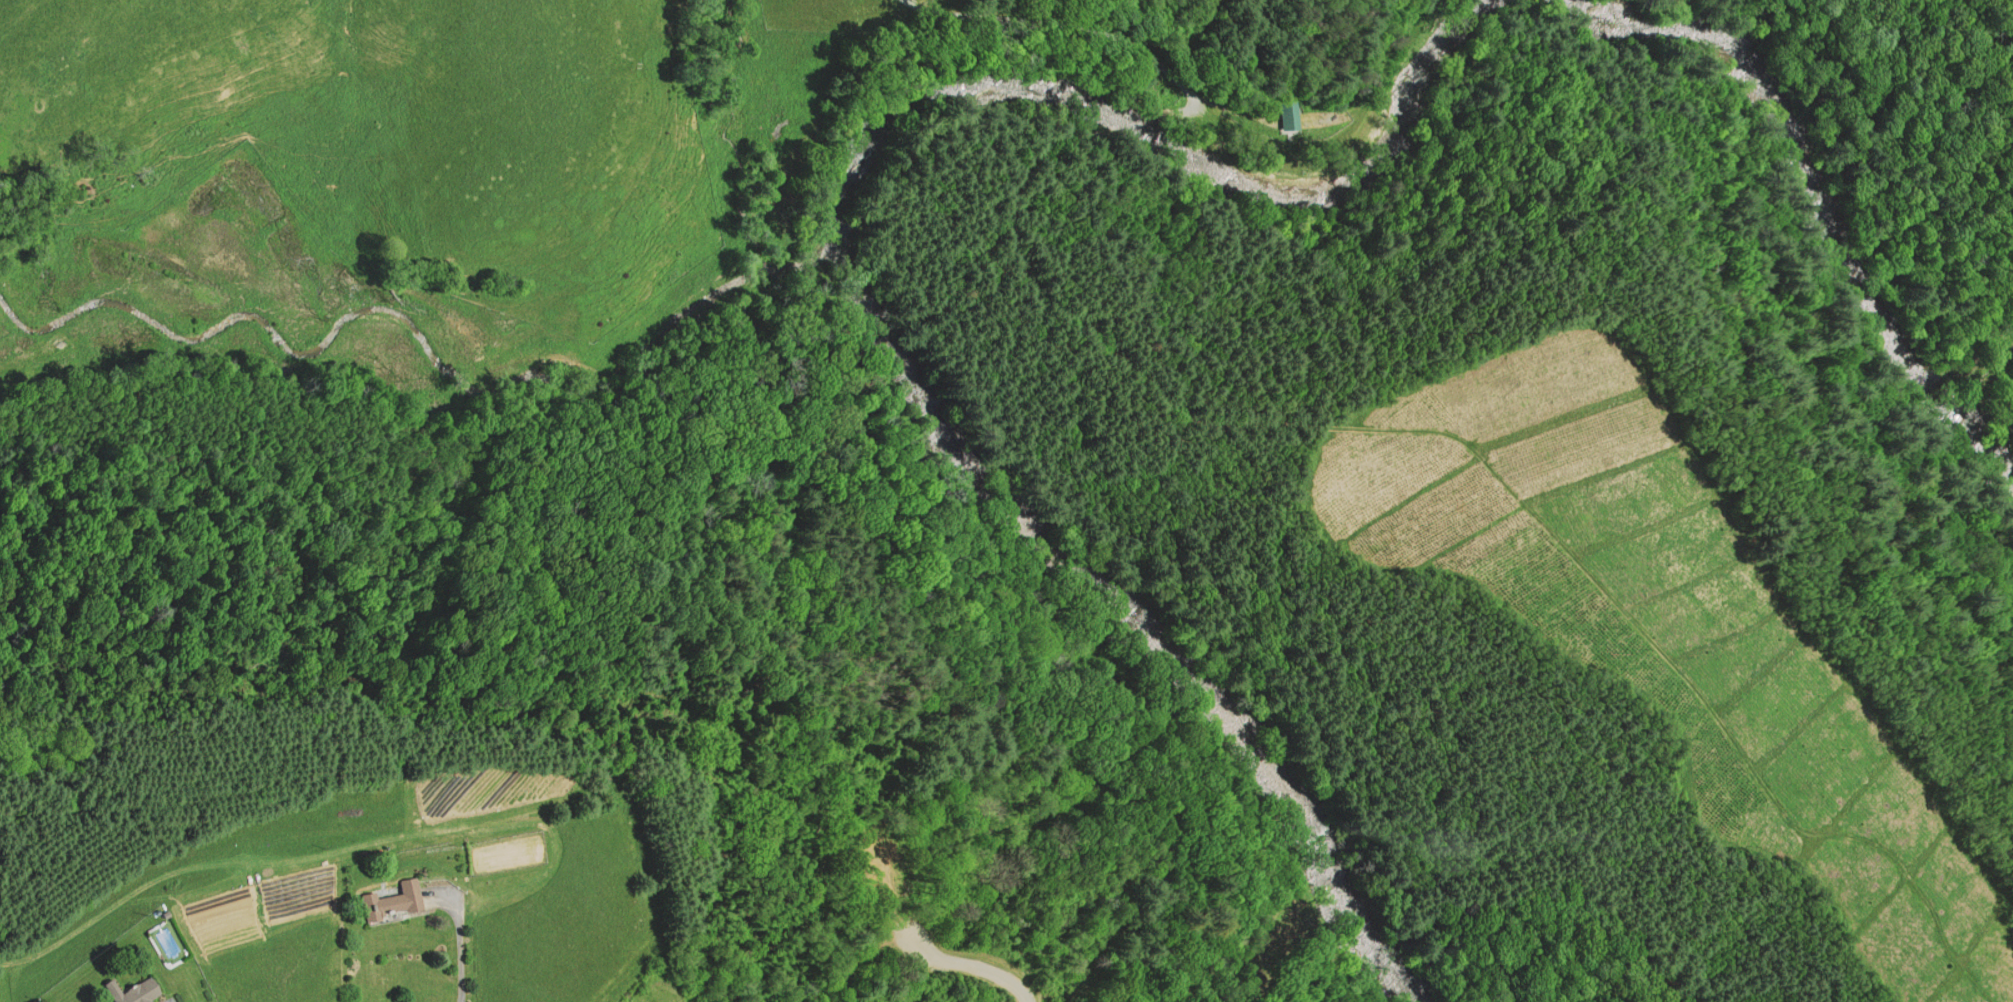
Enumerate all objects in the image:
road: (1060, 18)
river: (1157, 110)
building: (1289, 111)
river: (1834, 199)
river: (1148, 600)
building: (408, 788)
building: (394, 898)
road: (977, 963)
building: (139, 991)

